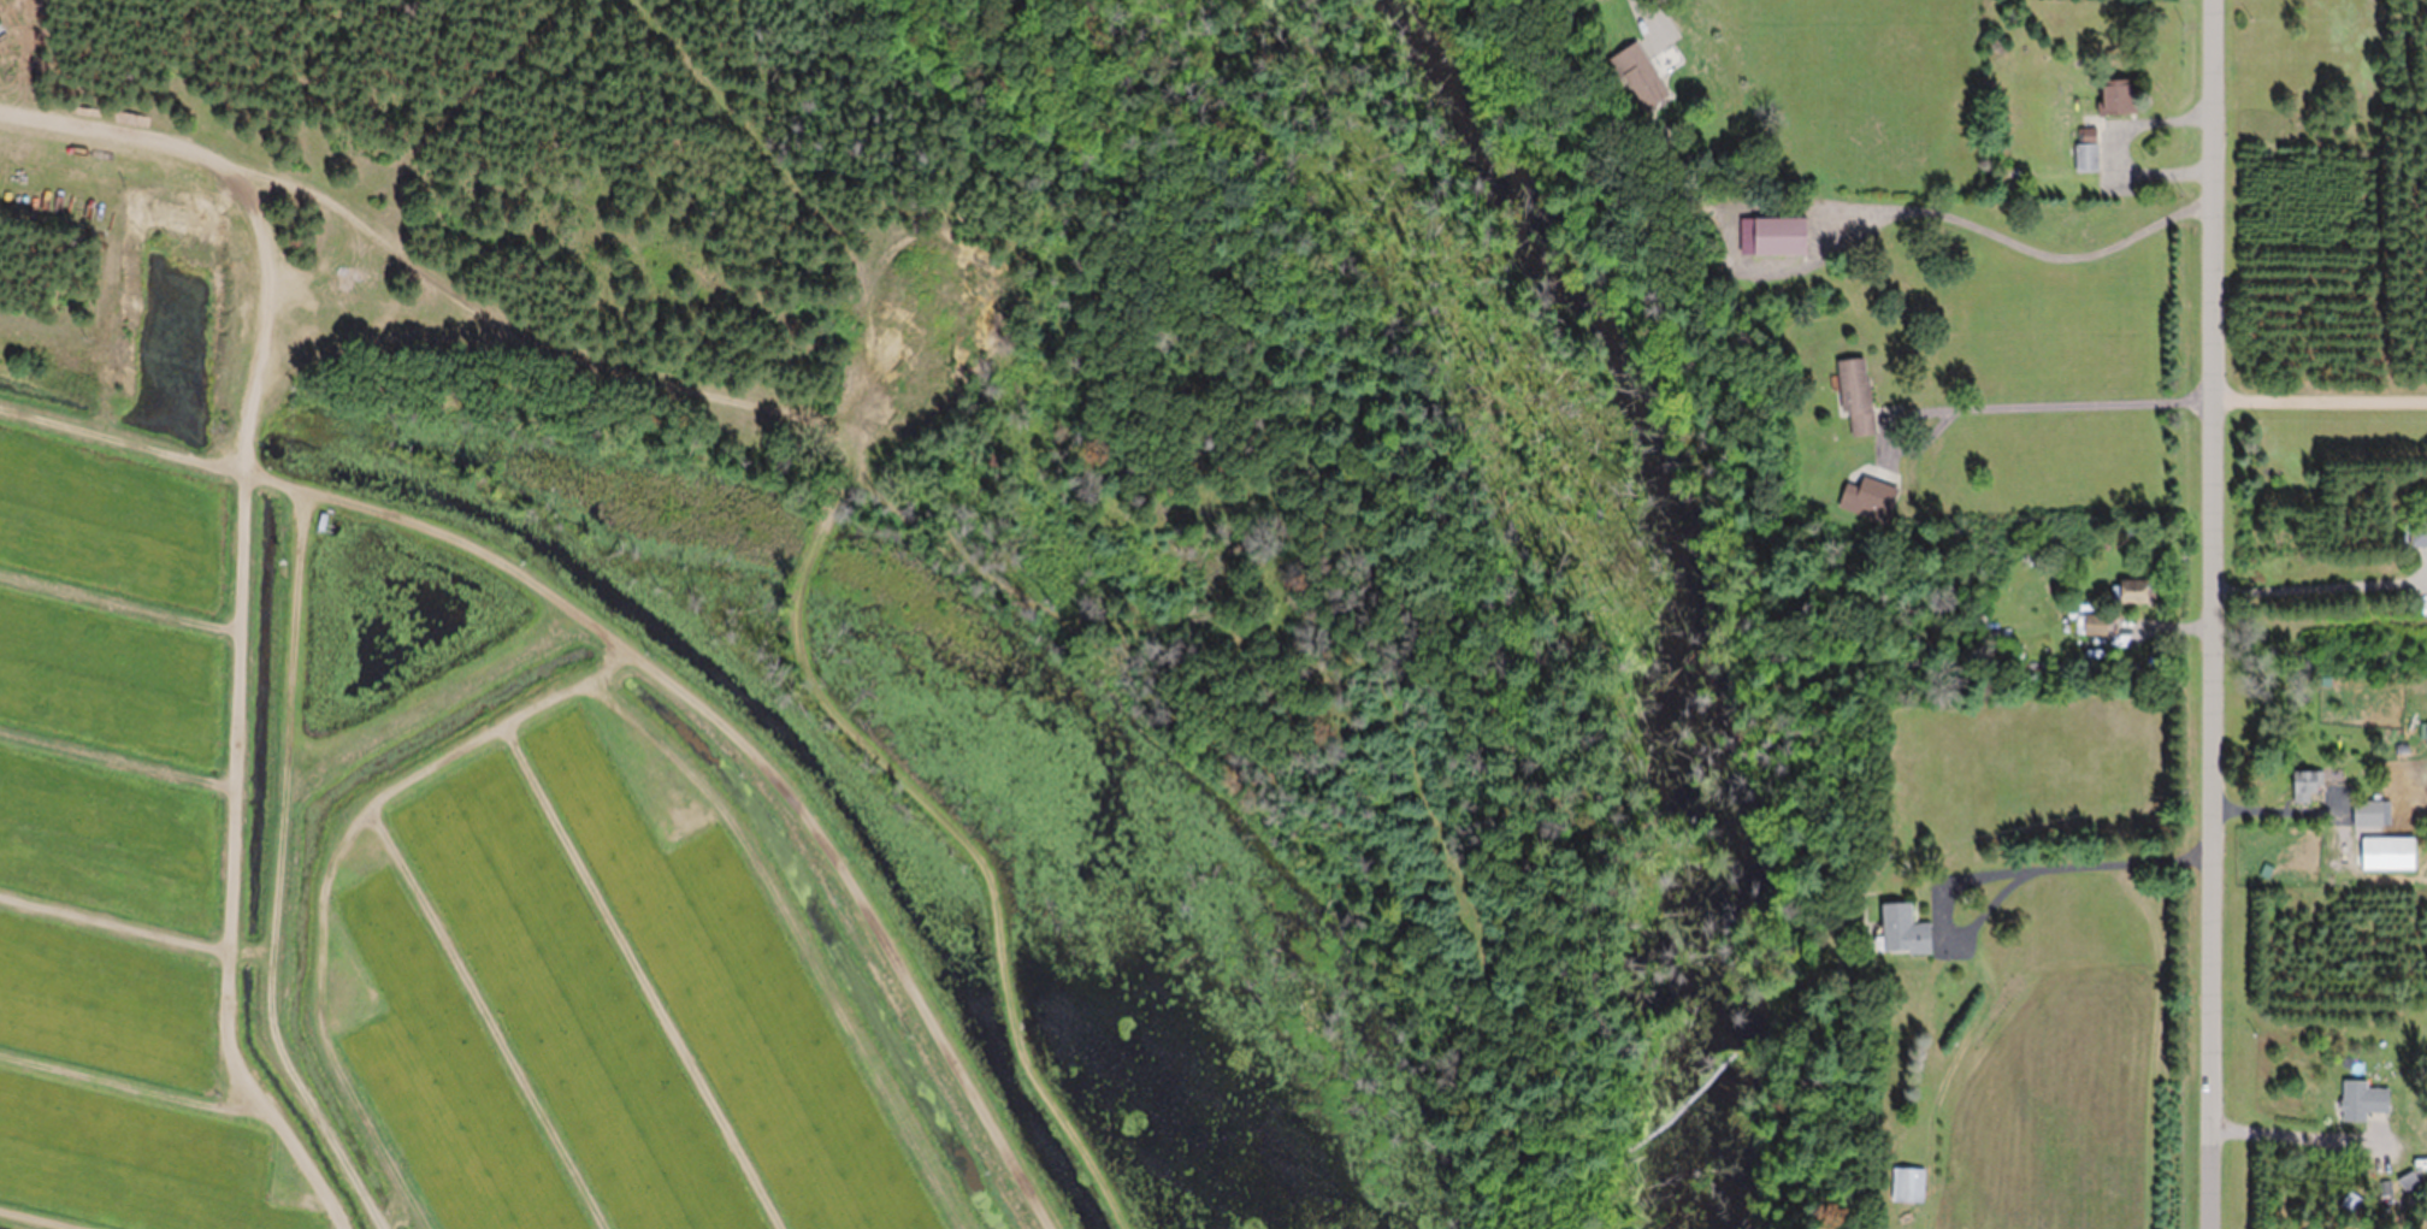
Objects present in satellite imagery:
building: (1638, 75)
building: (2083, 150)
building: (1767, 236)
road: (2319, 394)
building: (1852, 396)
building: (1865, 497)
building: (2415, 534)
building: (2128, 591)
road: (2210, 614)
building: (2090, 625)
building: (2423, 733)
building: (2302, 785)
building: (2367, 813)
building: (2382, 853)
crop: (412, 894)
building: (1897, 930)
building: (2358, 1100)
crop: (2061, 1105)
building: (2405, 1181)
building: (1903, 1184)

